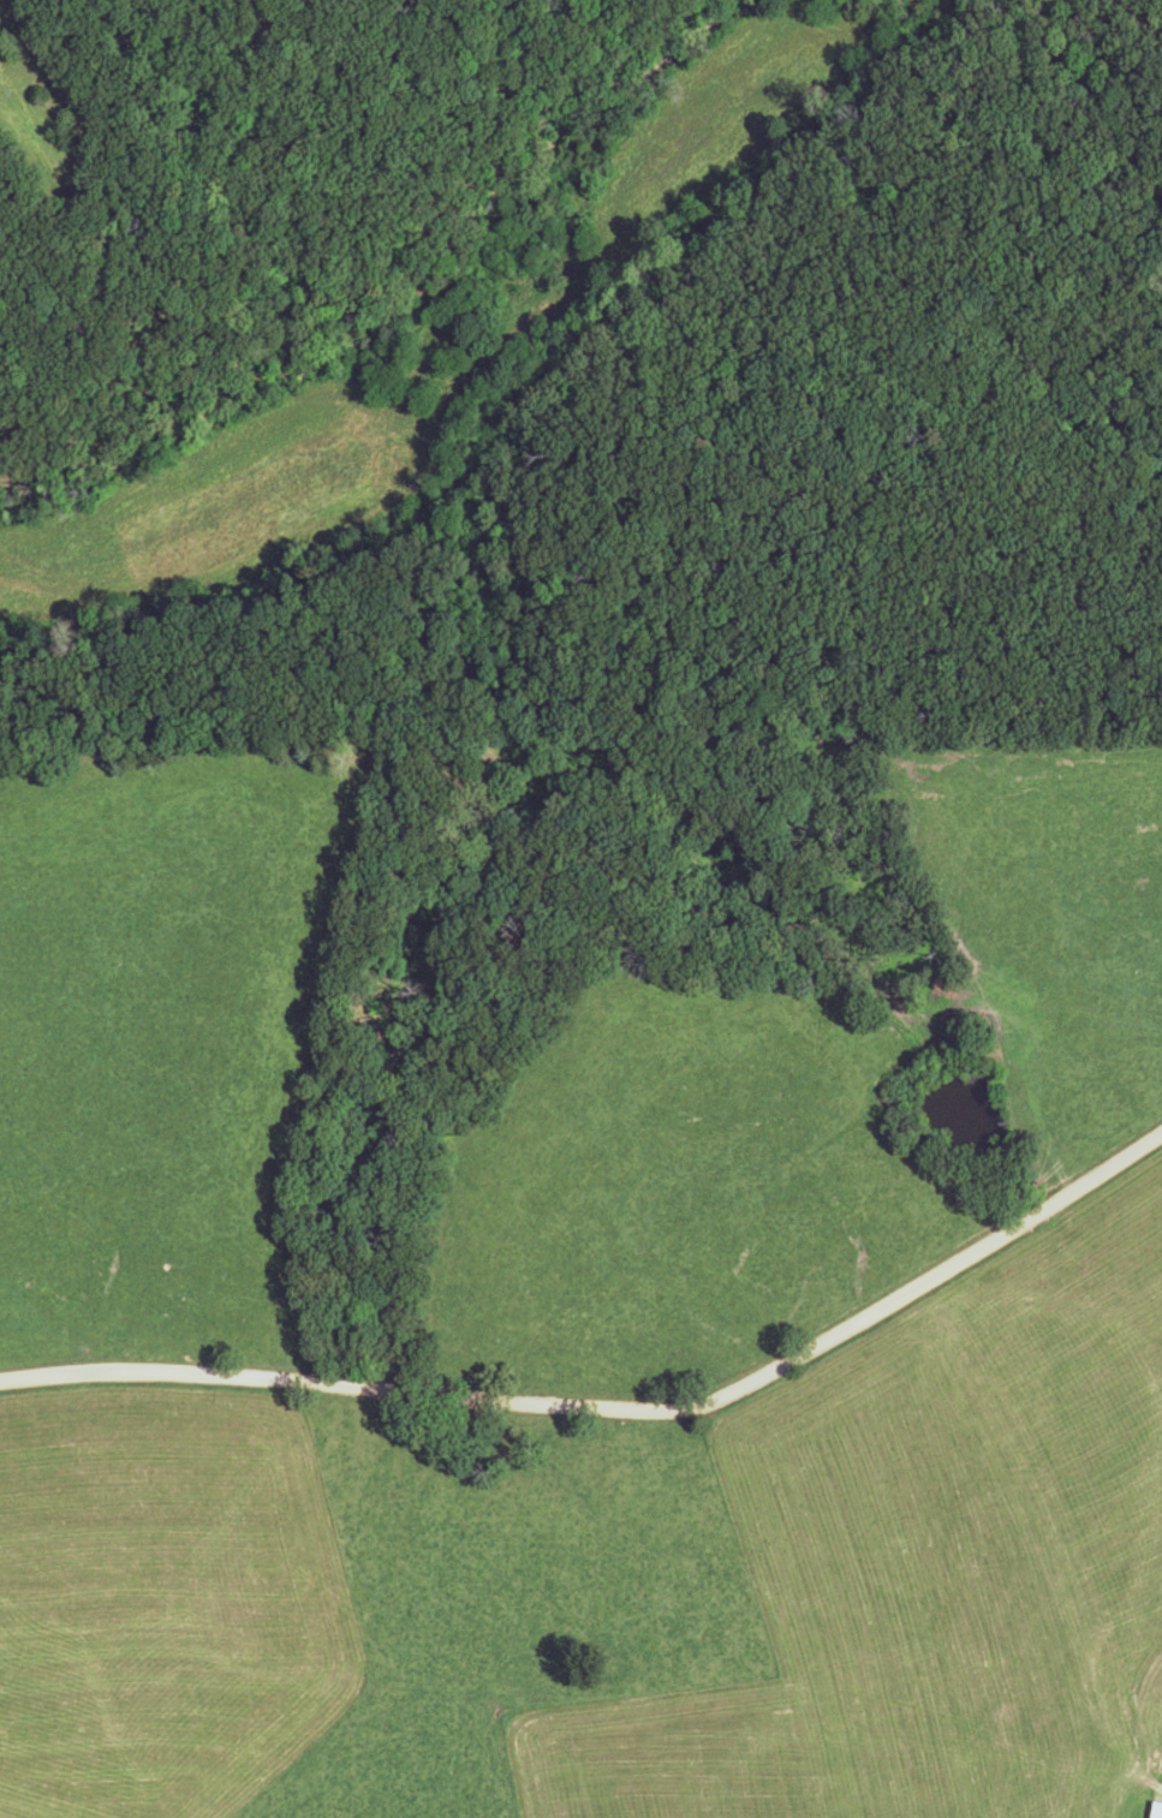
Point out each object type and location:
road: (616, 1408)

